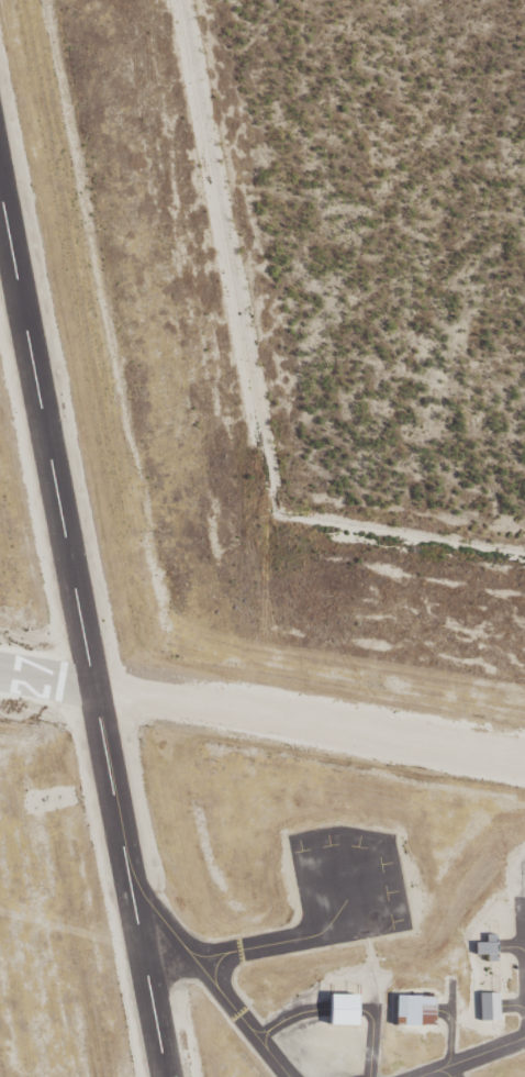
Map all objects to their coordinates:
airport runway: (45, 444)
airport: (217, 647)
airport runway: (45, 680)
airport runway: (127, 882)
airport apron: (346, 885)
airport taxiway: (255, 948)
building: (488, 1006)
airport taxiway: (241, 1019)
airport taxiway: (472, 1057)
road: (479, 1058)

